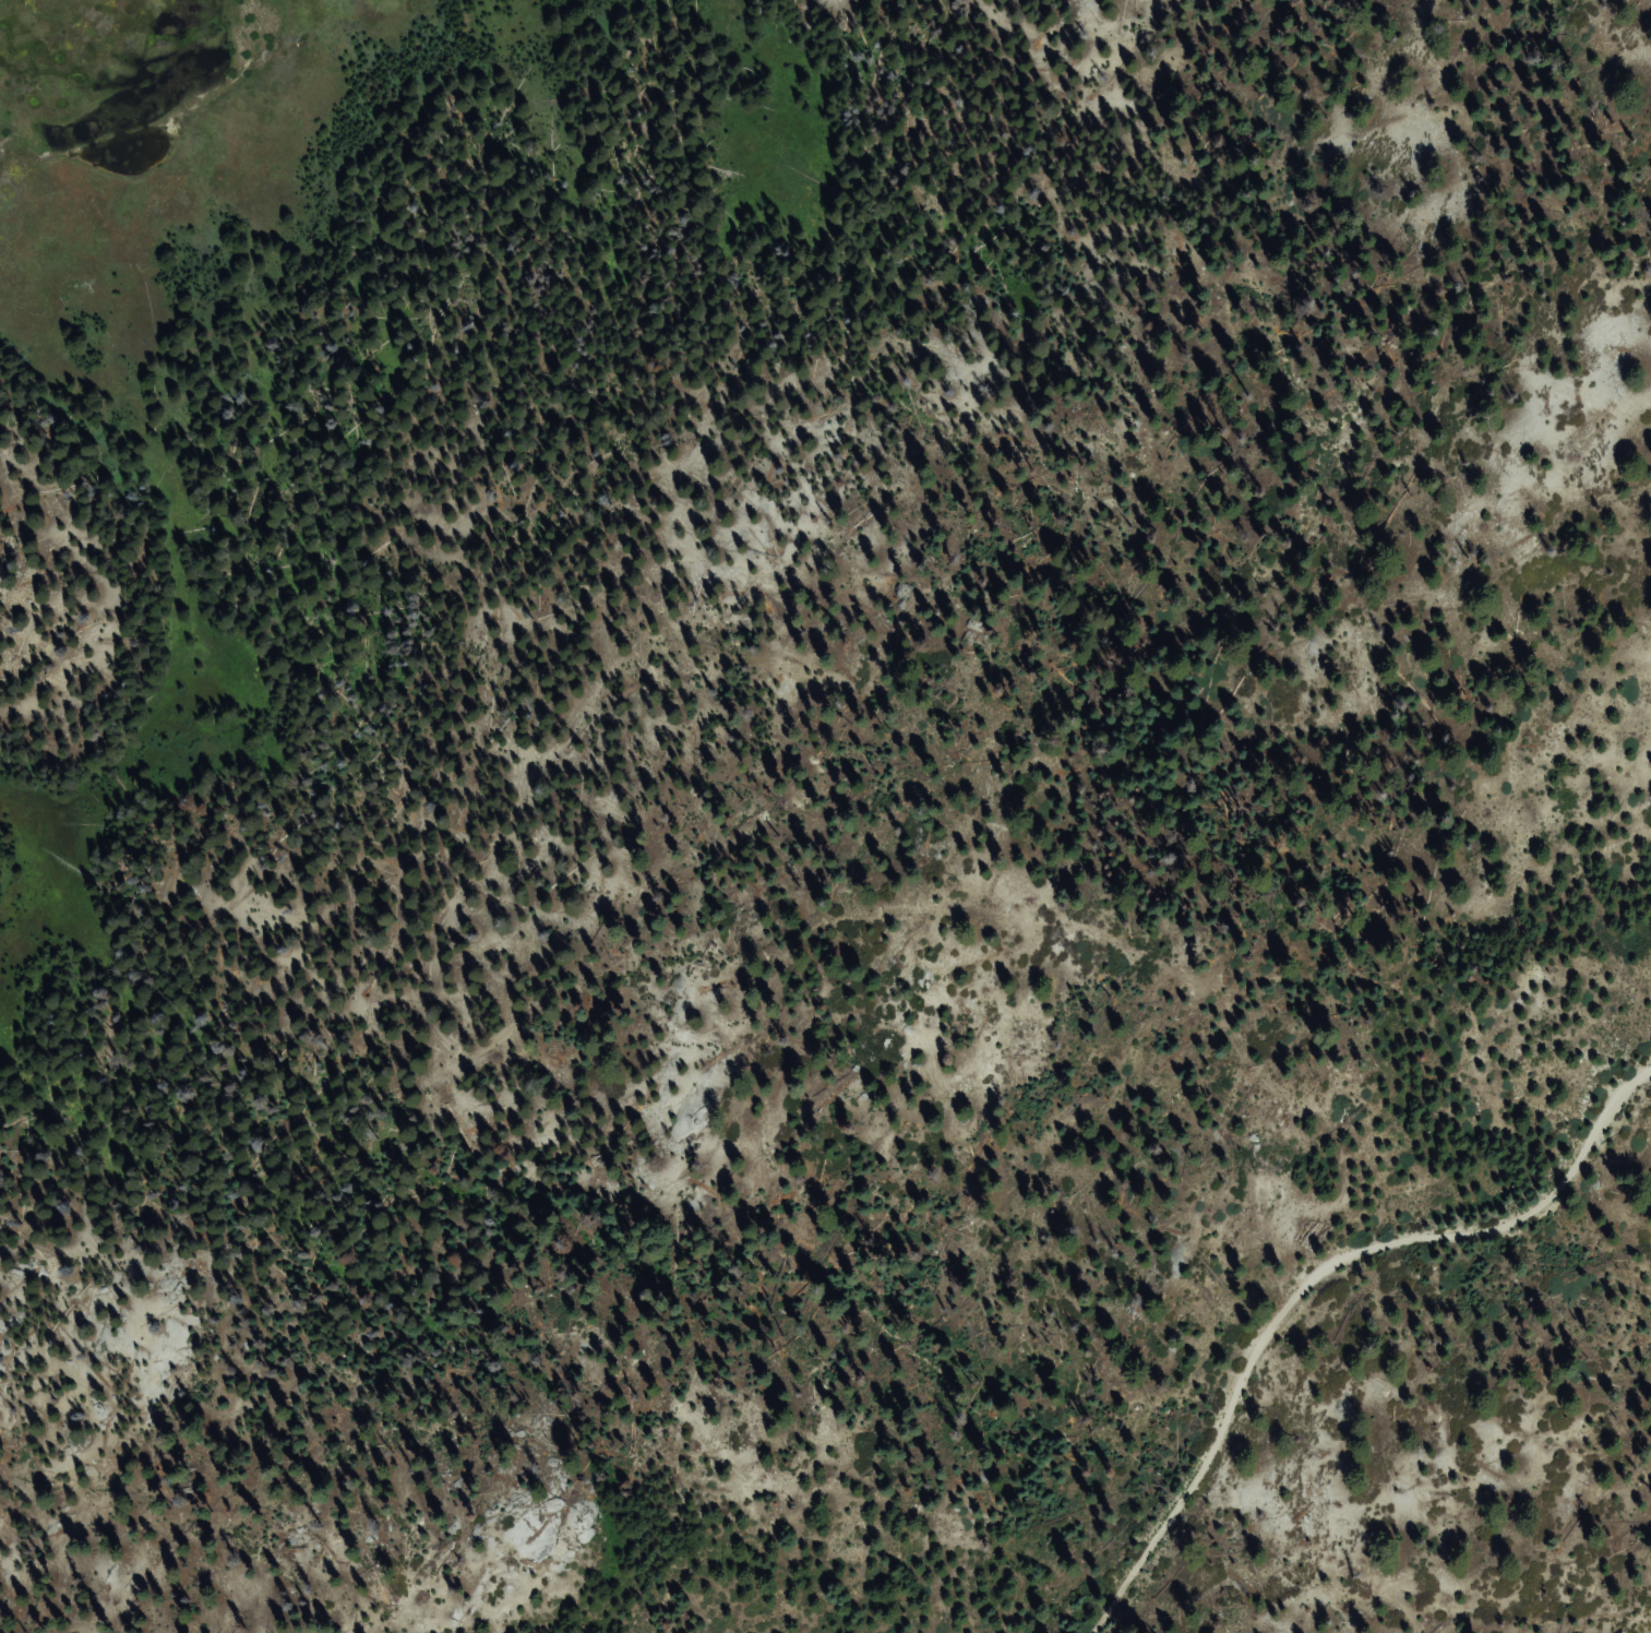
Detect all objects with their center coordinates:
road: (1313, 1285)

